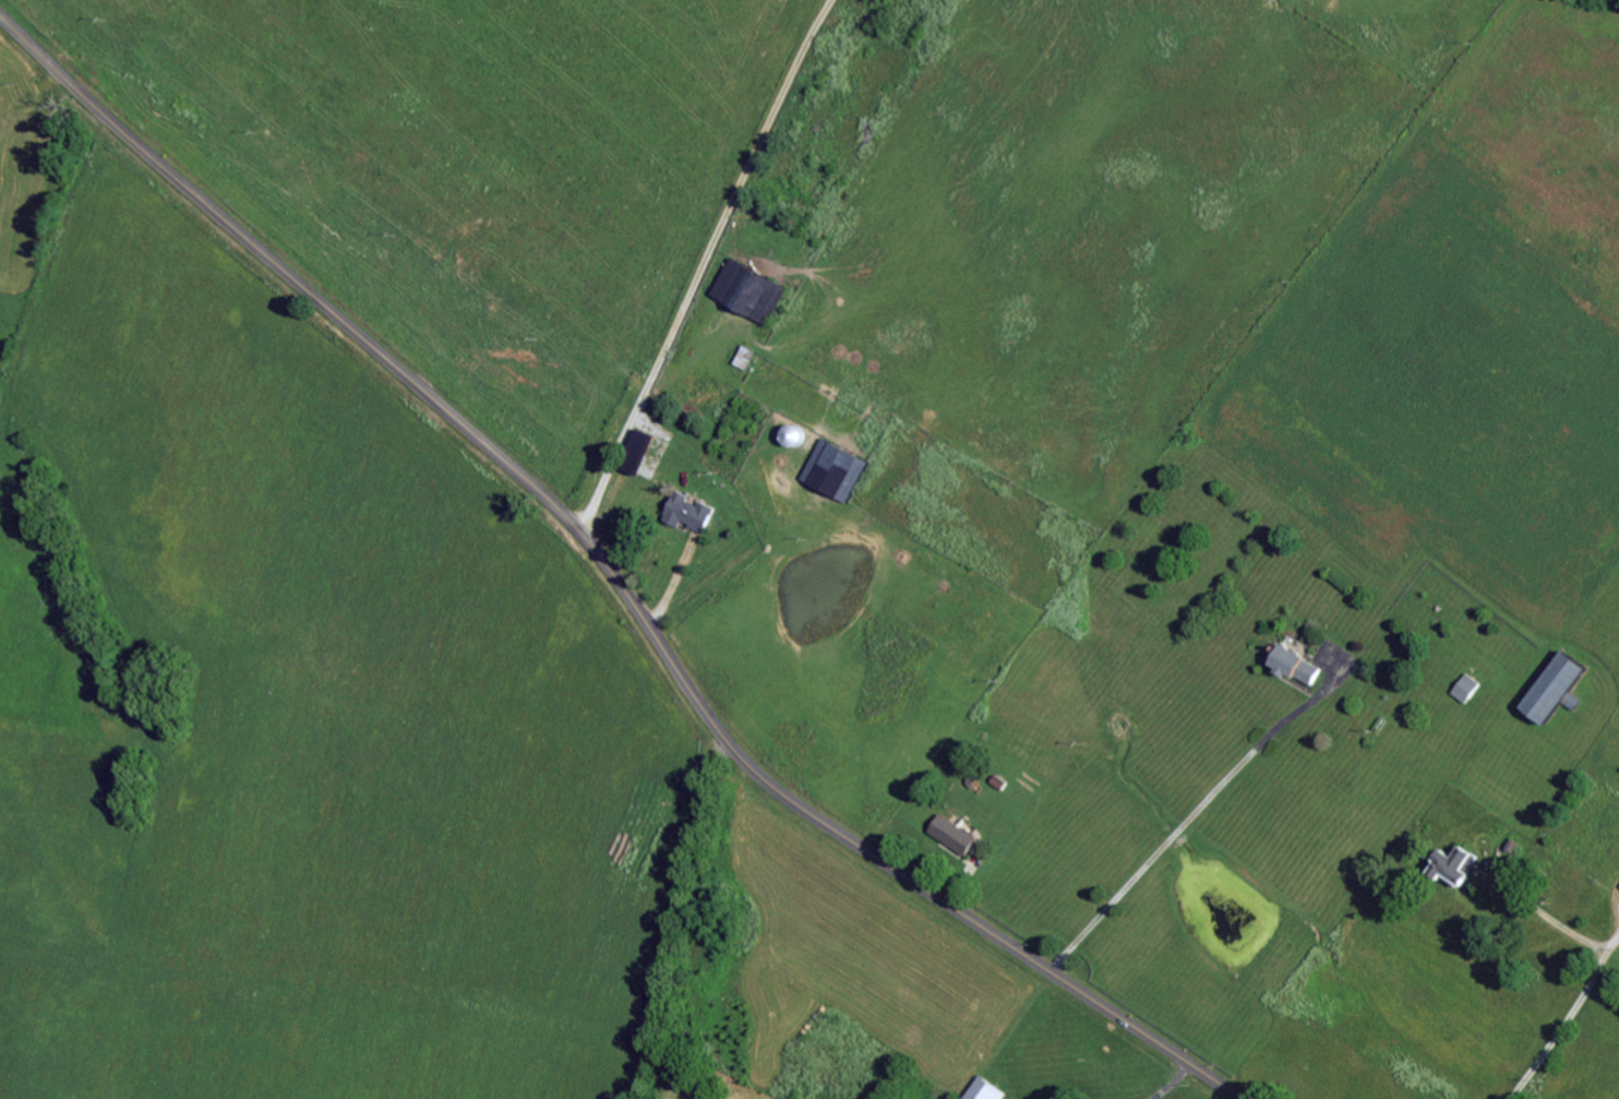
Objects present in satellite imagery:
road: (691, 261)
road: (58, 299)
building: (684, 510)
road: (612, 575)
building: (1291, 662)
building: (1551, 685)
road: (1189, 812)
building: (949, 833)
building: (1450, 863)
road: (1590, 977)
building: (980, 1089)
building: (1091, 1098)

